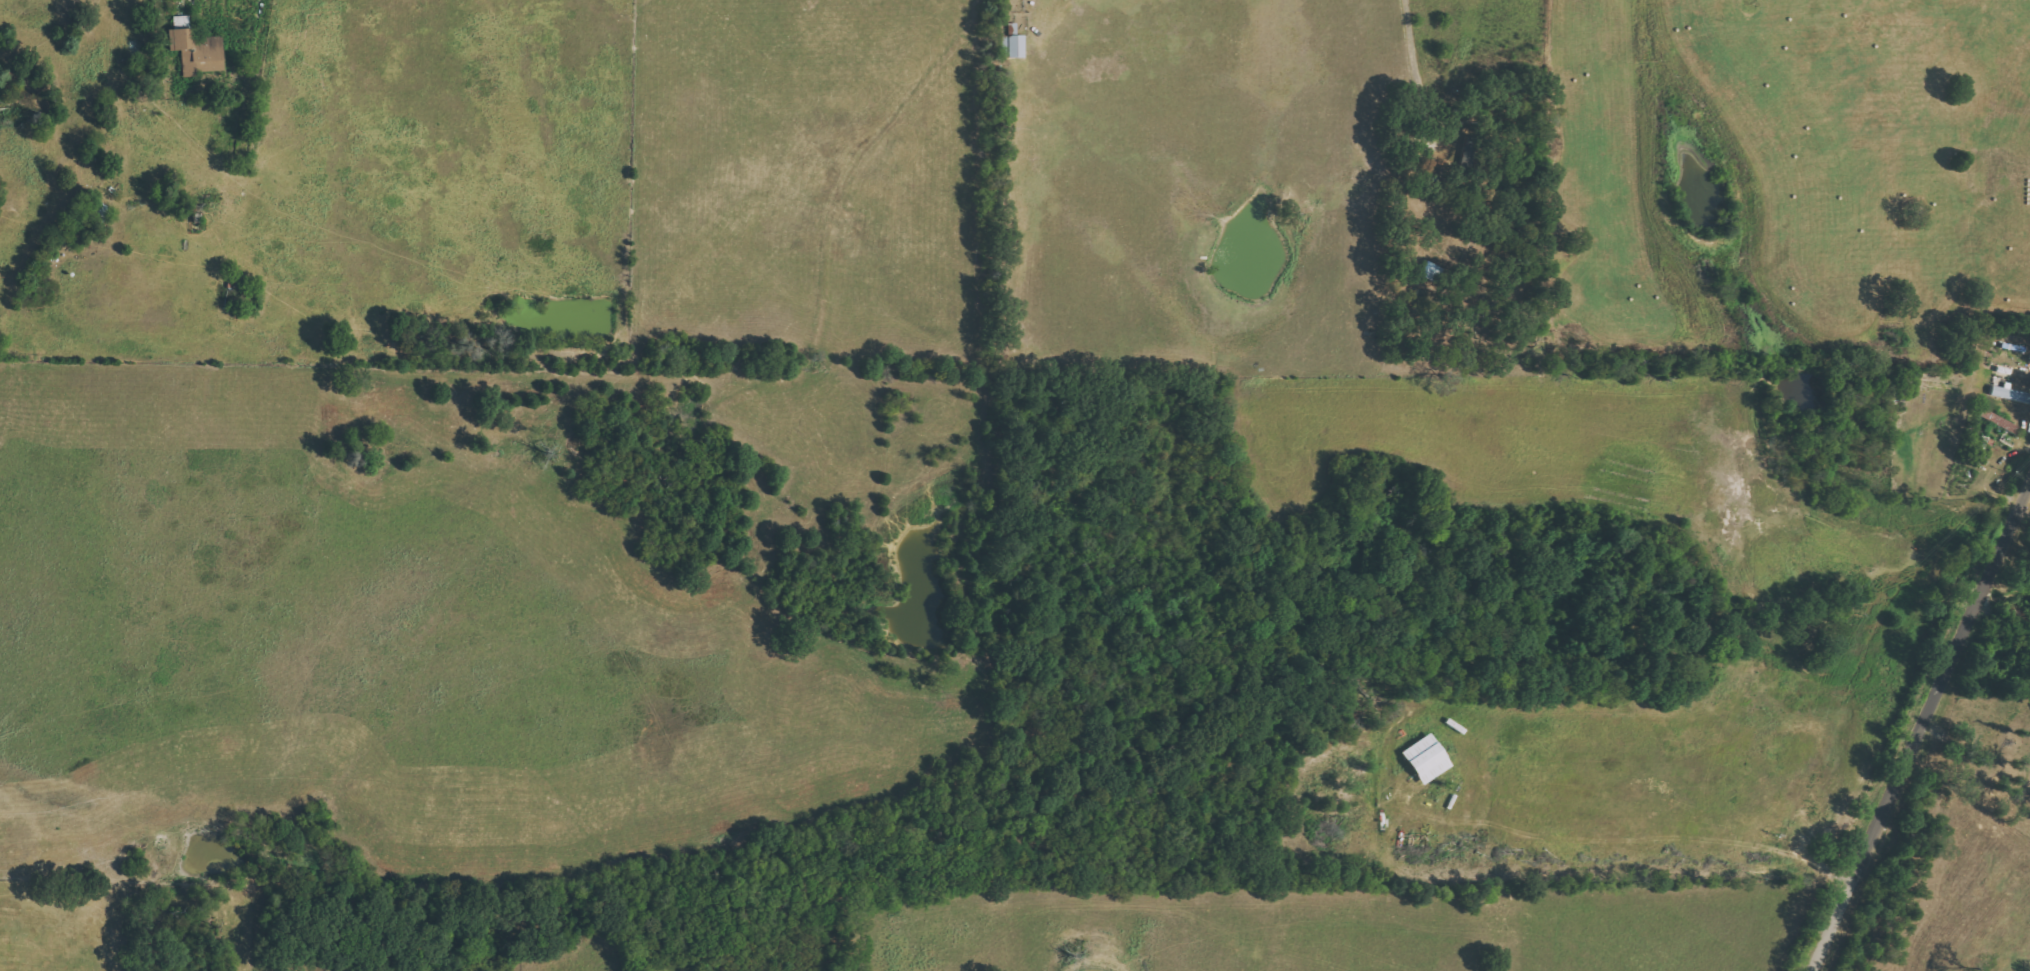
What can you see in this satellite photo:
building: (1013, 46)
building: (196, 51)
road: (213, 64)
road: (1425, 71)
building: (2009, 394)
road: (1919, 723)
building: (1425, 759)

